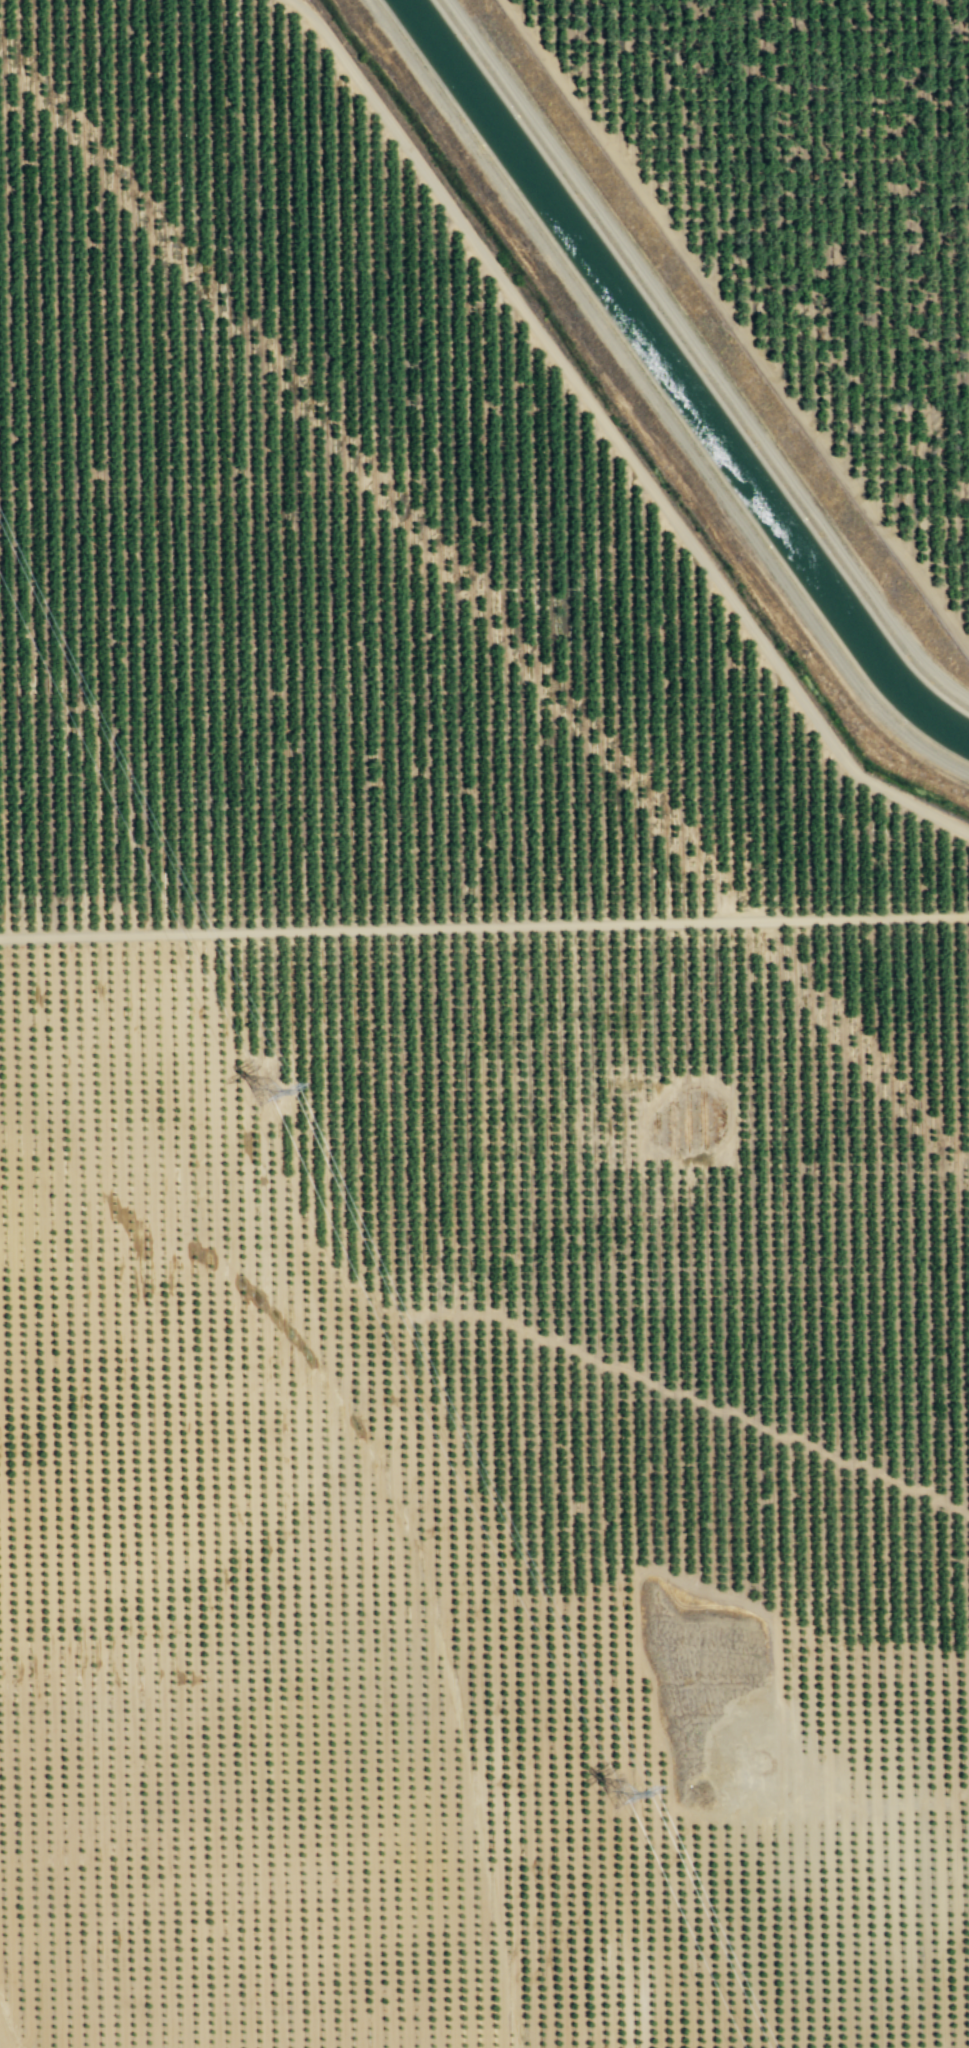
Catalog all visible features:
road: (734, 324)
road: (702, 355)
road: (484, 926)
power tower: (274, 1093)
power tower: (626, 1793)

